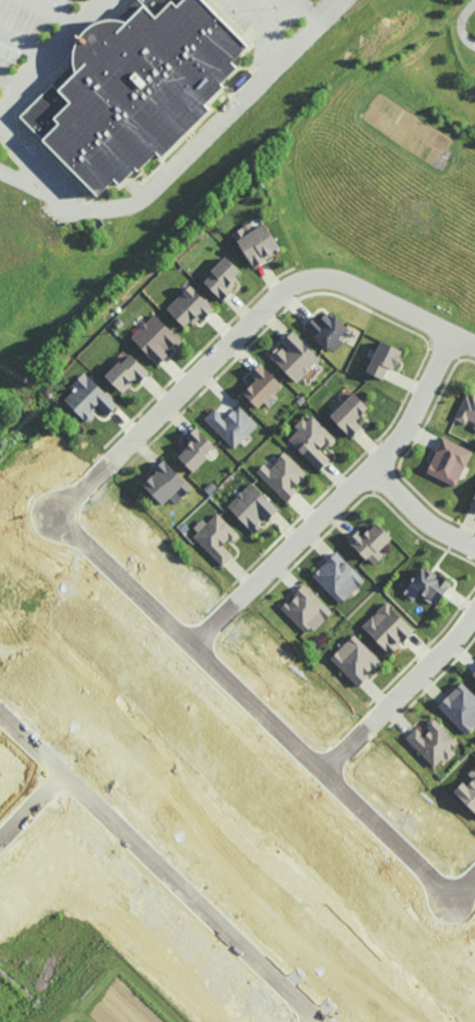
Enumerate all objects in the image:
road: (307, 11)
road: (55, 12)
road: (262, 27)
road: (460, 27)
road: (25, 44)
road: (11, 81)
building: (133, 89)
road: (13, 98)
road: (4, 125)
road: (187, 154)
building: (257, 243)
building: (223, 277)
building: (189, 307)
road: (244, 326)
building: (327, 331)
building: (156, 338)
building: (294, 356)
building: (384, 359)
building: (127, 372)
building: (261, 386)
building: (89, 398)
building: (467, 409)
building: (349, 414)
building: (231, 425)
building: (312, 440)
building: (196, 449)
building: (449, 461)
building: (283, 476)
building: (166, 484)
road: (336, 501)
building: (473, 503)
building: (252, 508)
road: (417, 514)
building: (216, 538)
building: (371, 542)
building: (338, 577)
building: (427, 585)
building: (306, 609)
building: (388, 628)
building: (356, 660)
building: (474, 673)
road: (398, 694)
building: (460, 707)
road: (261, 715)
building: (433, 742)
building: (468, 791)
road: (27, 809)
road: (153, 874)

